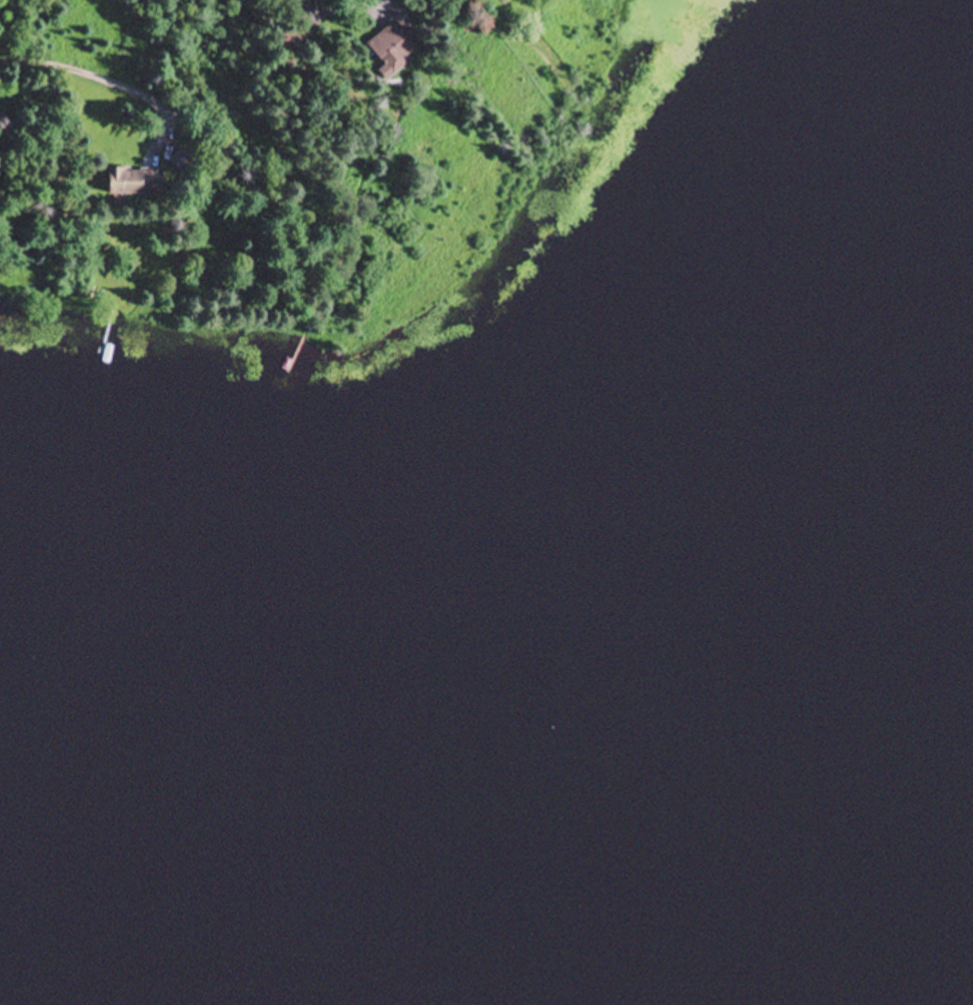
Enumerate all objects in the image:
building: (393, 49)
road: (70, 80)
building: (136, 181)

